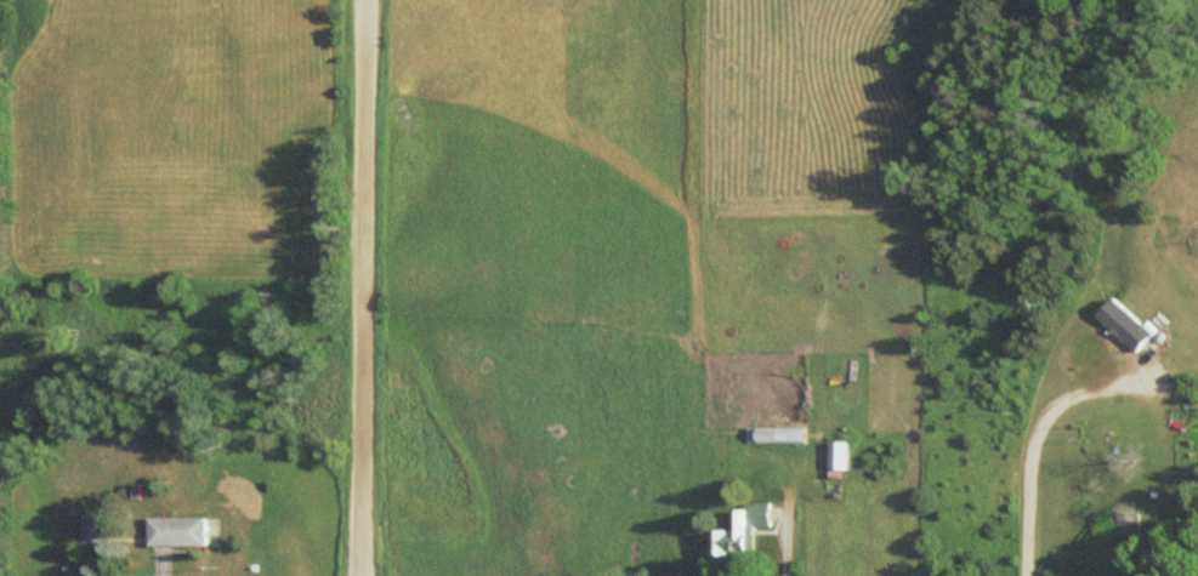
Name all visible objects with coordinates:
park: (1196, 102)
road: (364, 287)
building: (1132, 324)
building: (782, 435)
building: (842, 455)
building: (101, 527)
building: (186, 531)
building: (749, 531)
building: (1134, 531)

